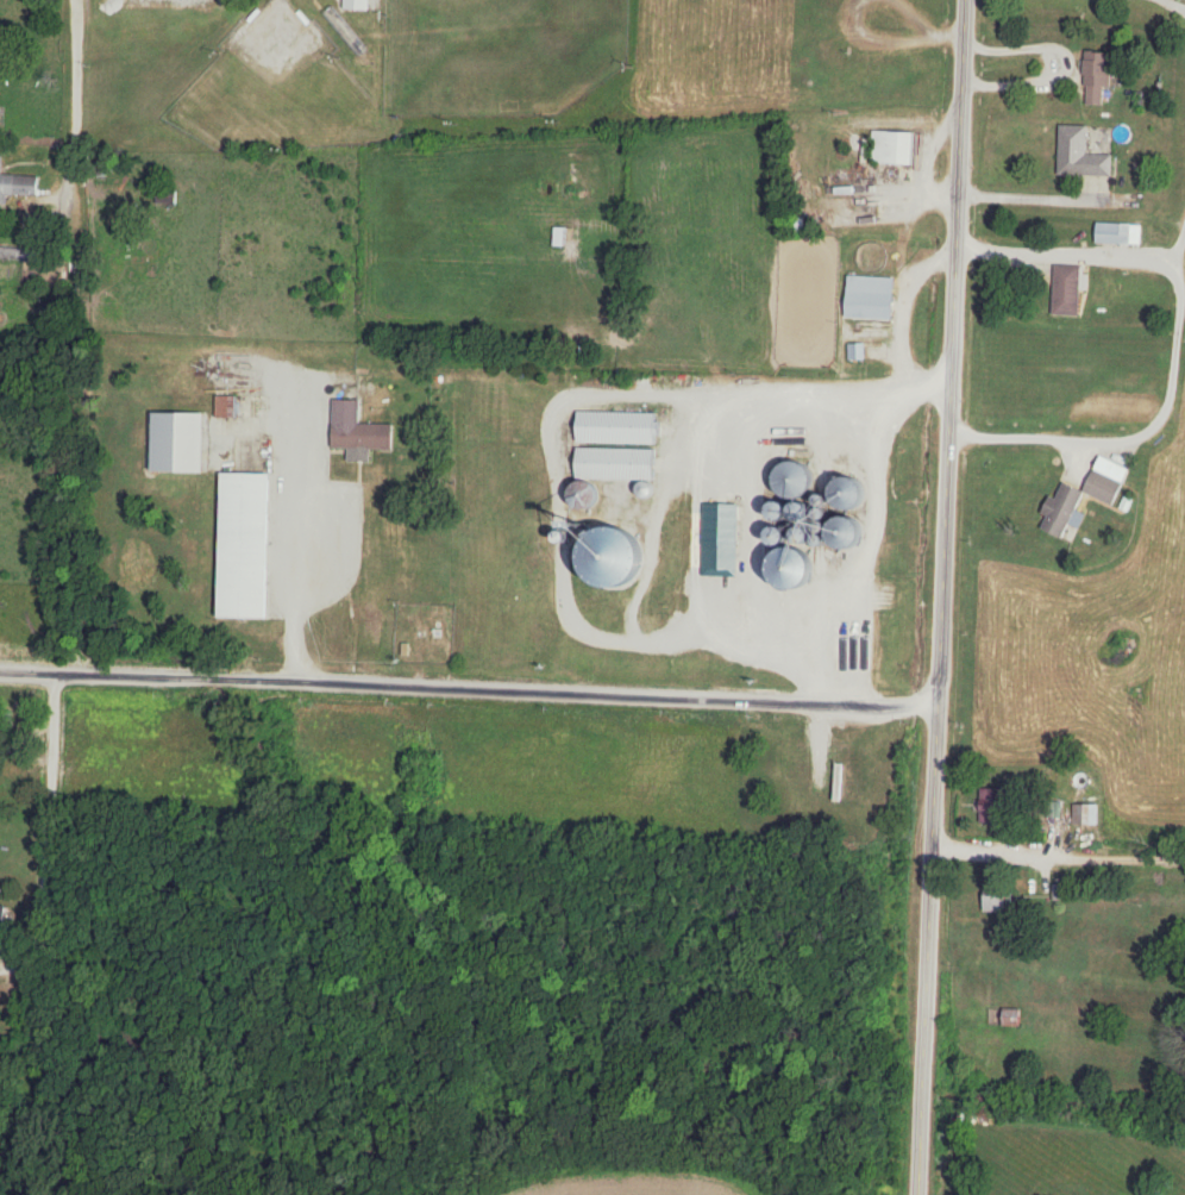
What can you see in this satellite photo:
road: (1181, 1)
park: (496, 55)
building: (1098, 79)
park: (271, 92)
road: (76, 101)
building: (891, 148)
building: (1080, 155)
building: (17, 184)
road: (1037, 198)
building: (1120, 234)
building: (559, 237)
road: (905, 243)
building: (19, 255)
road: (1078, 257)
building: (1067, 292)
building: (871, 298)
road: (287, 375)
road: (701, 386)
building: (226, 407)
road: (952, 412)
building: (357, 428)
building: (617, 428)
building: (180, 443)
building: (619, 465)
building: (1078, 502)
building: (247, 545)
road: (858, 557)
building: (803, 632)
road: (24, 672)
road: (493, 689)
building: (996, 805)
road: (44, 809)
building: (1086, 814)
road: (1052, 824)
road: (1057, 856)
building: (997, 902)
building: (2, 919)
road: (15, 958)
road: (928, 1009)

